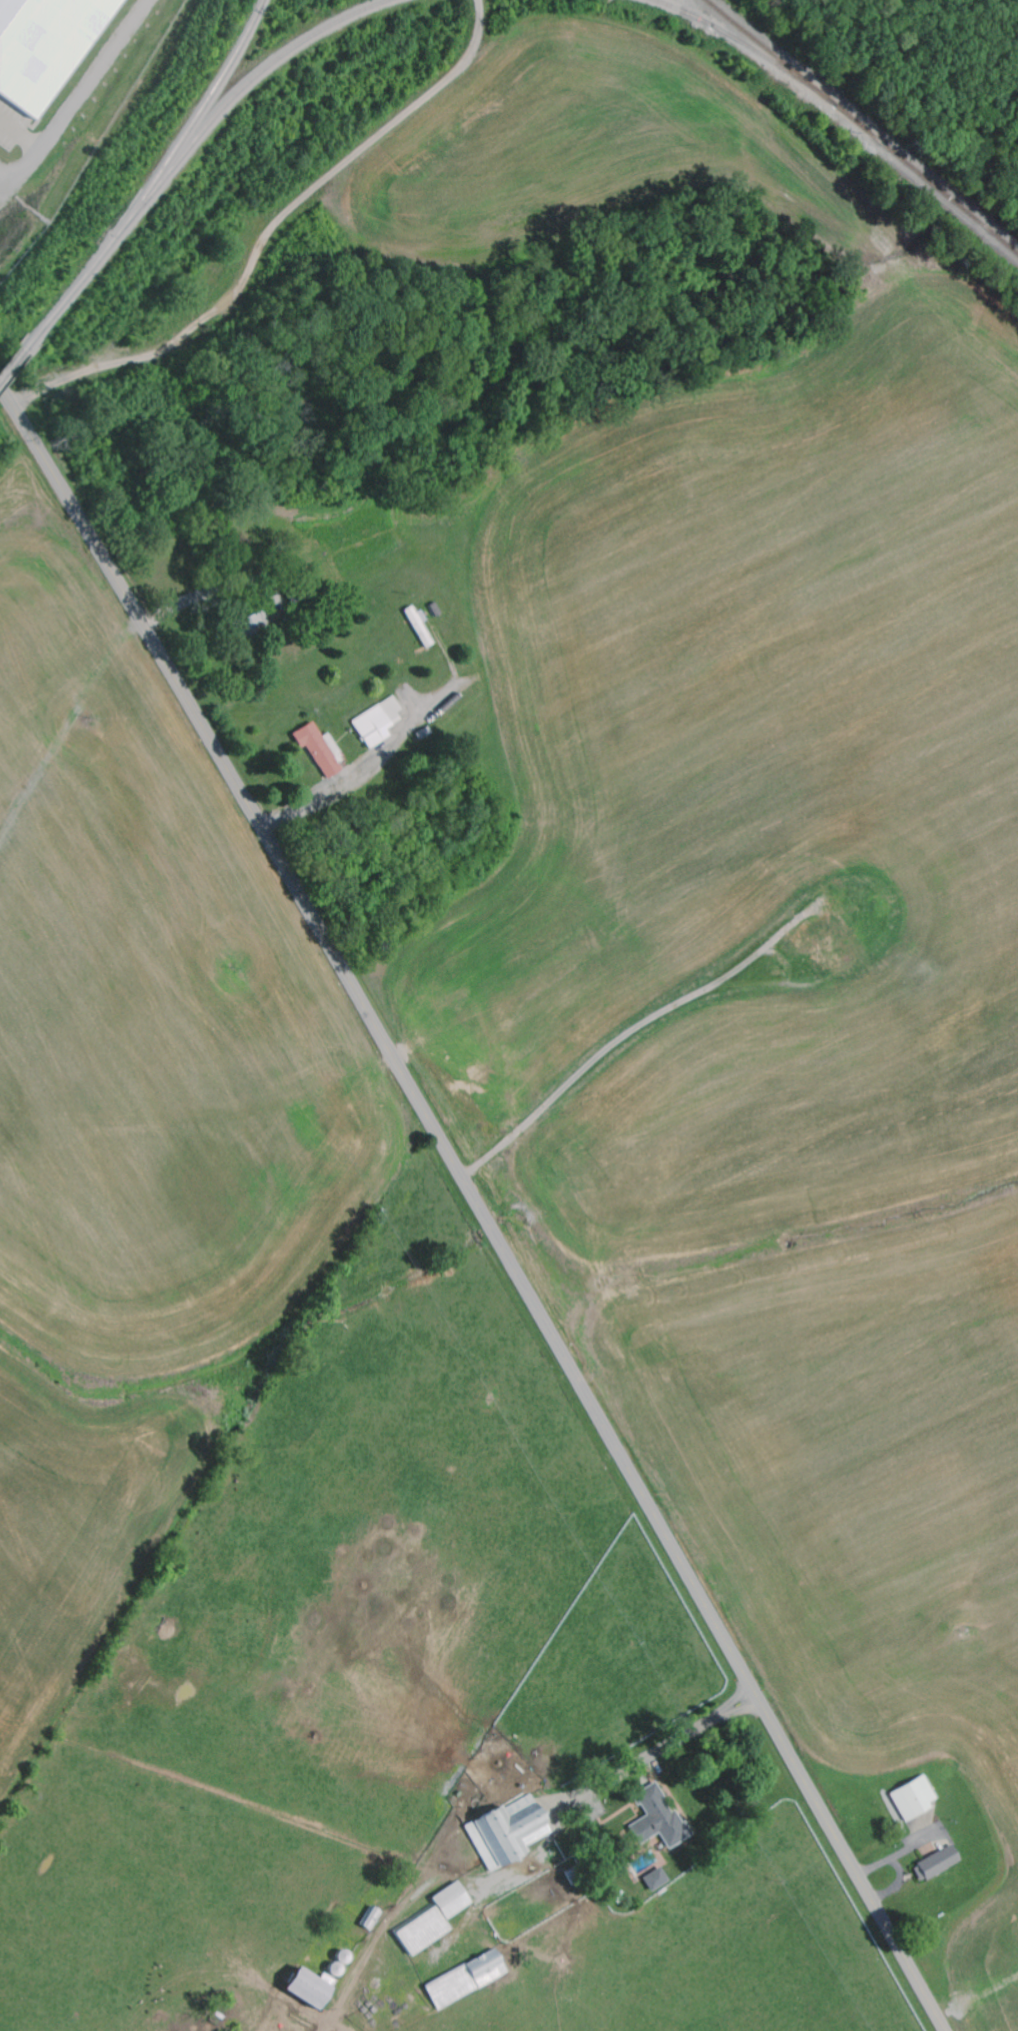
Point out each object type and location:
railway: (732, 39)
building: (45, 48)
railway: (229, 97)
railway: (860, 127)
railway: (148, 180)
railway: (9, 362)
building: (418, 627)
building: (378, 723)
road: (67, 728)
building: (320, 750)
road: (478, 1205)
building: (914, 1798)
building: (657, 1818)
building: (507, 1832)
building: (939, 1862)
building: (655, 1879)
building: (371, 1919)
building: (433, 1920)
building: (335, 1970)
building: (466, 1979)
building: (308, 1987)

